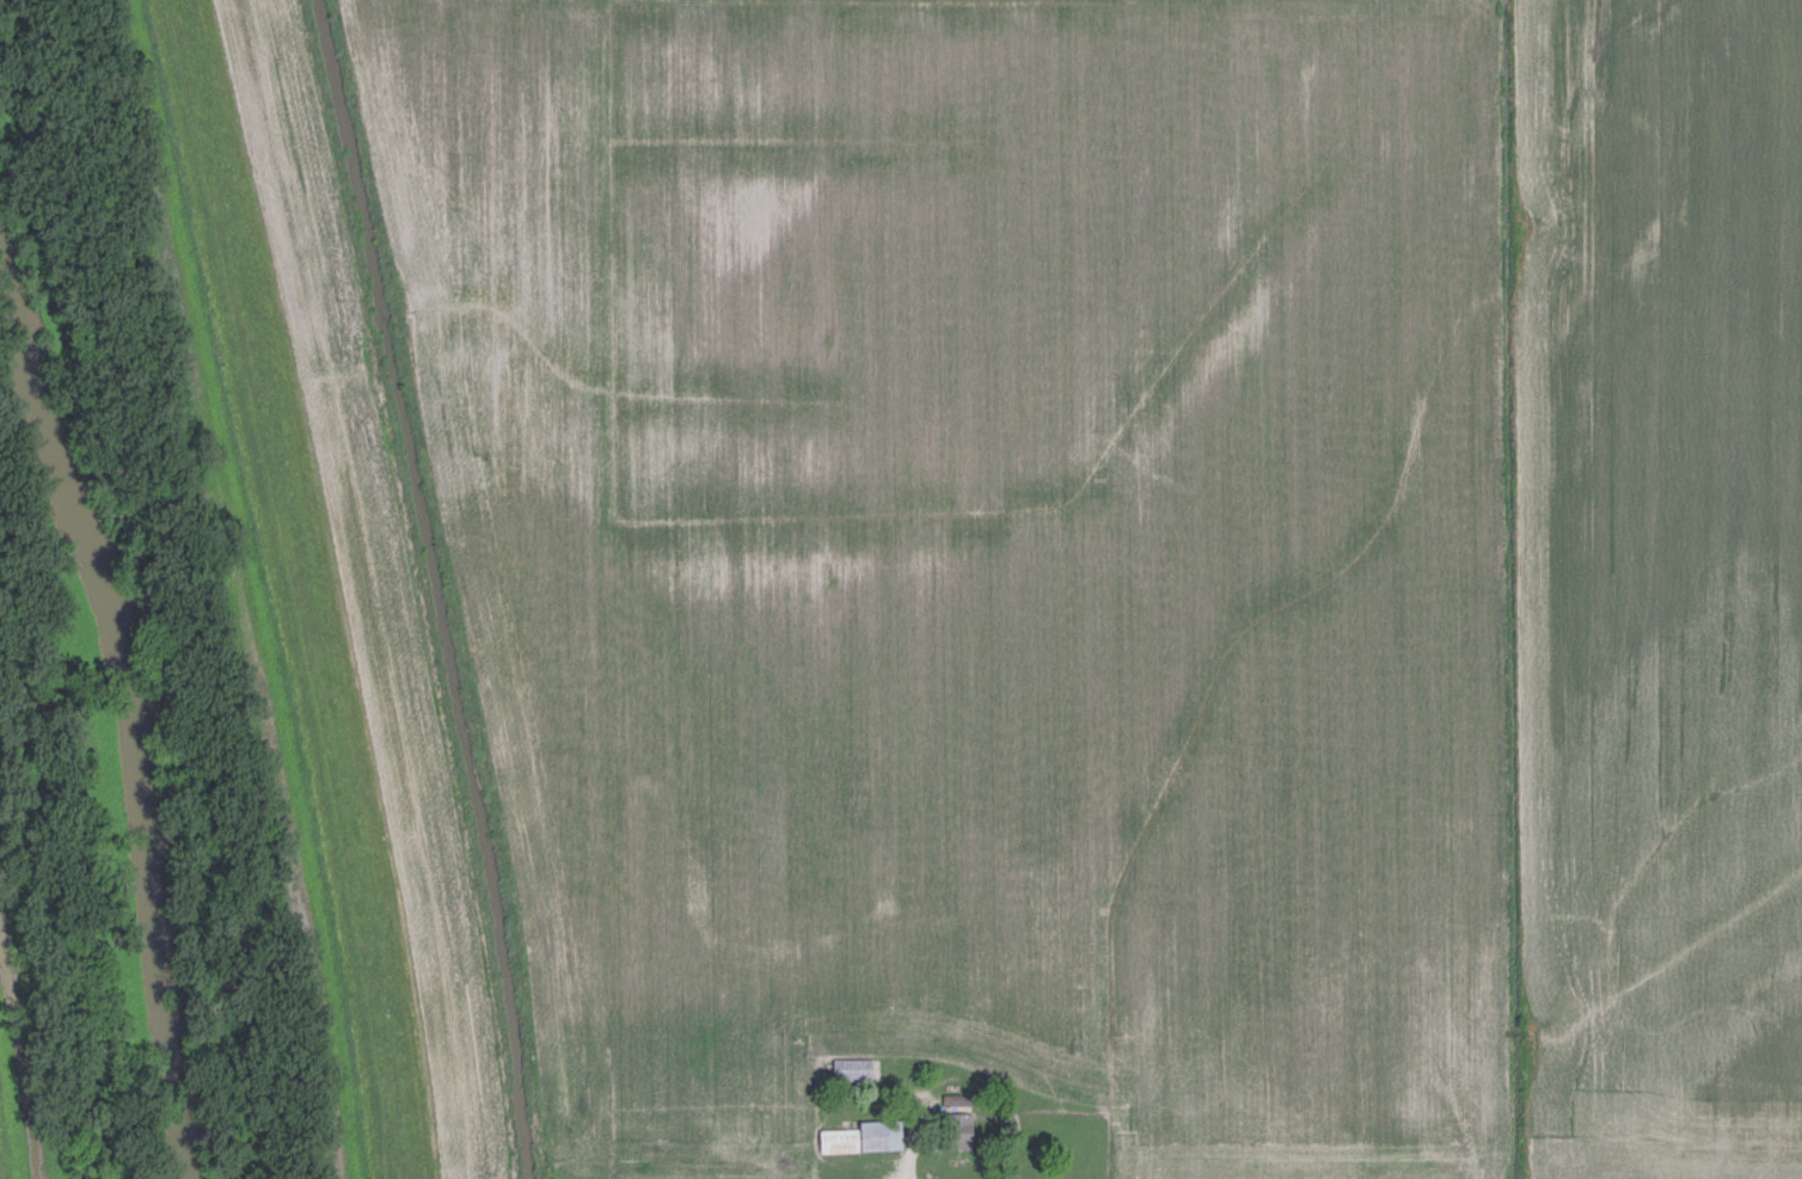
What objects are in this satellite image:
building: (857, 1068)
building: (870, 1136)

